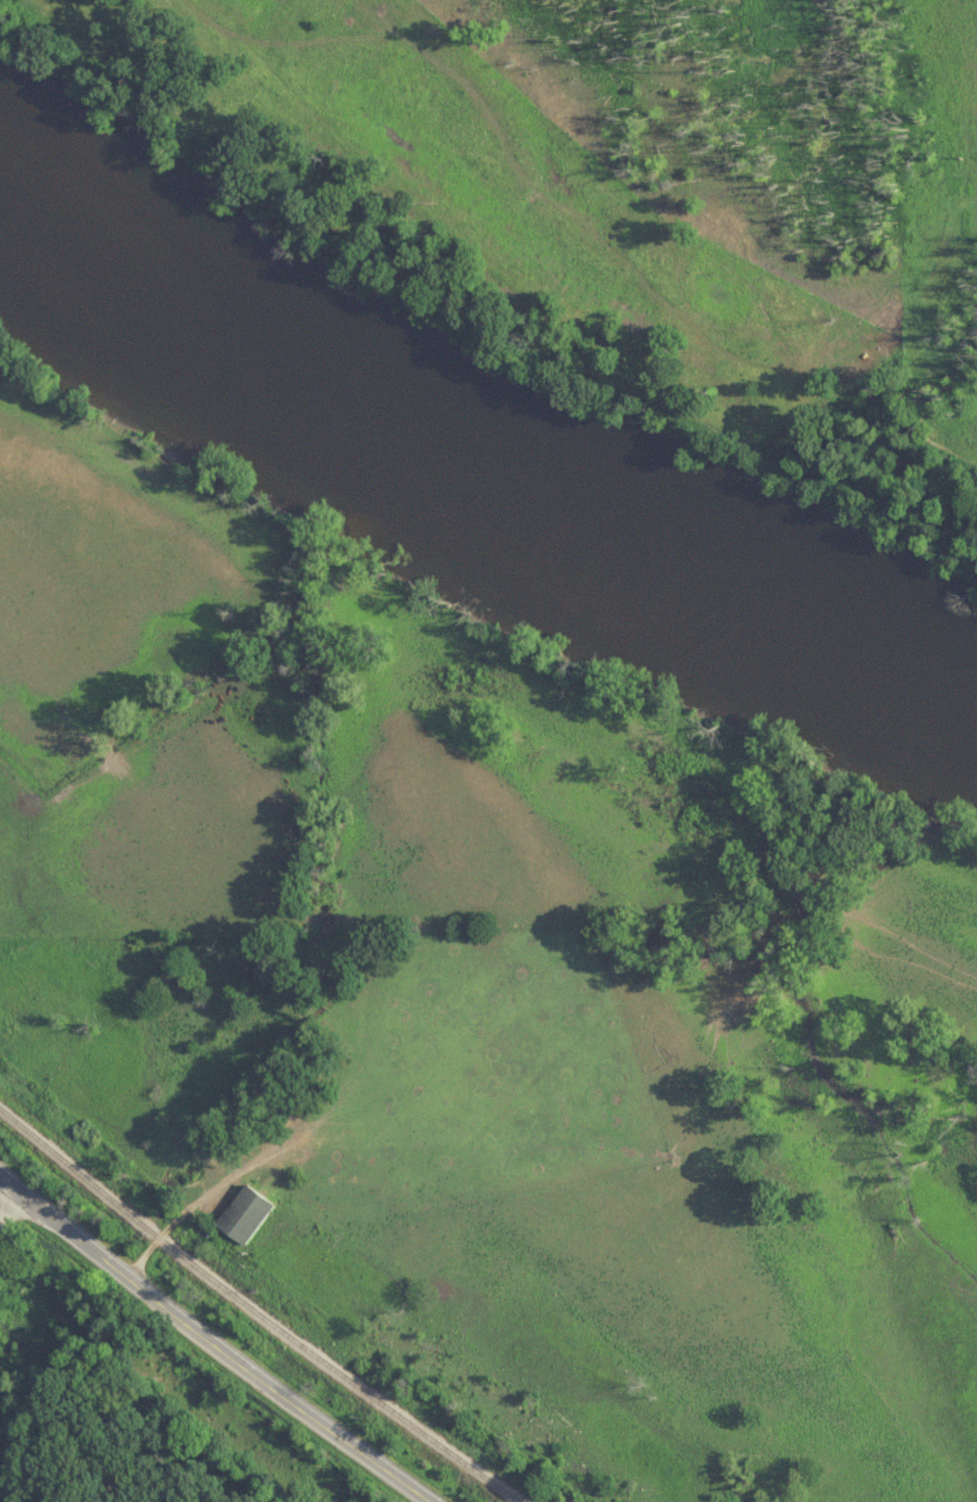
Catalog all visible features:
river: (476, 469)
road: (12, 1210)
building: (245, 1216)
railway: (256, 1313)
road: (211, 1344)
park: (11, 1361)

